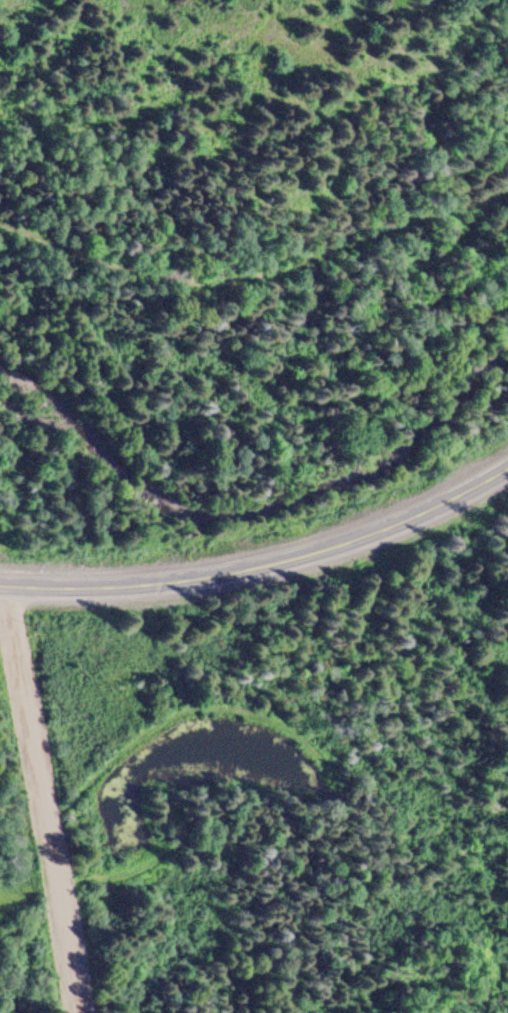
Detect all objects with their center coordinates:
road: (256, 285)
river: (247, 508)
road: (262, 564)
road: (42, 799)

